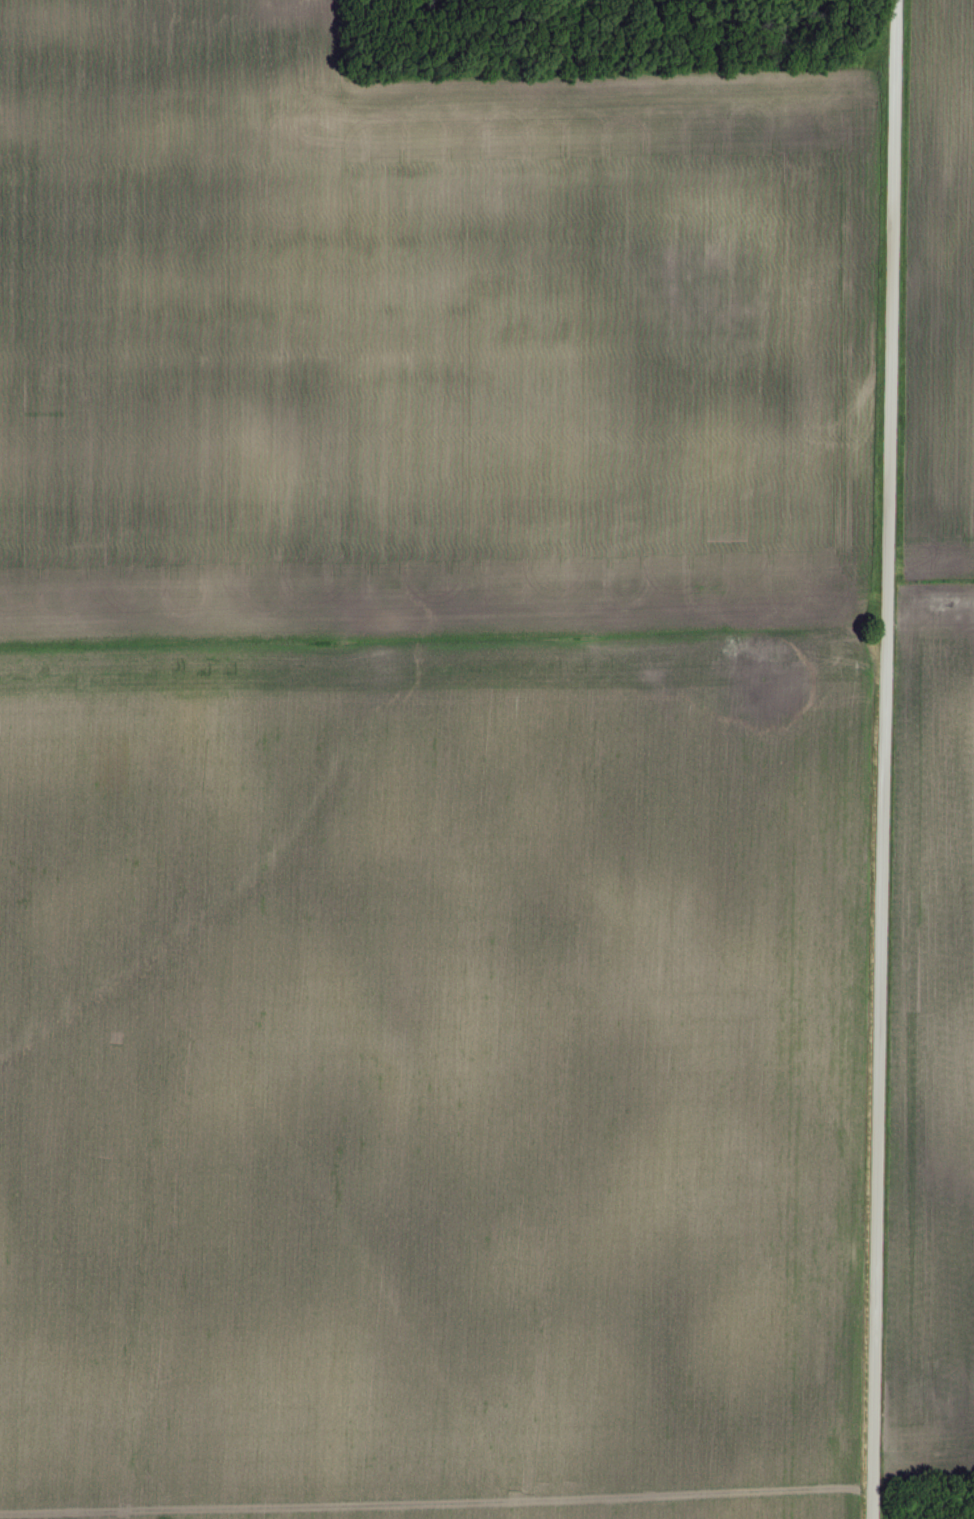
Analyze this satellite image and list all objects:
road: (884, 759)
crop: (428, 779)

